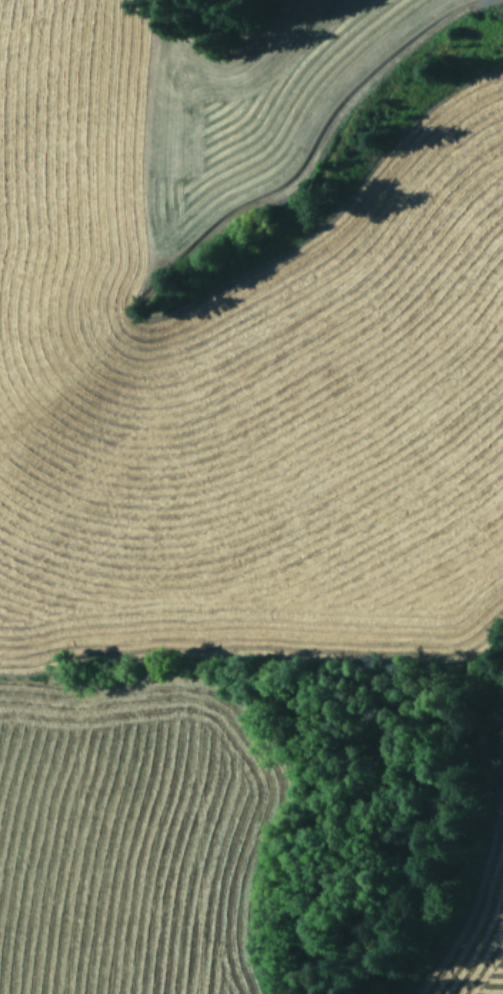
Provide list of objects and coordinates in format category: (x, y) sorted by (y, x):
road: (236, 215)
crop: (223, 422)

